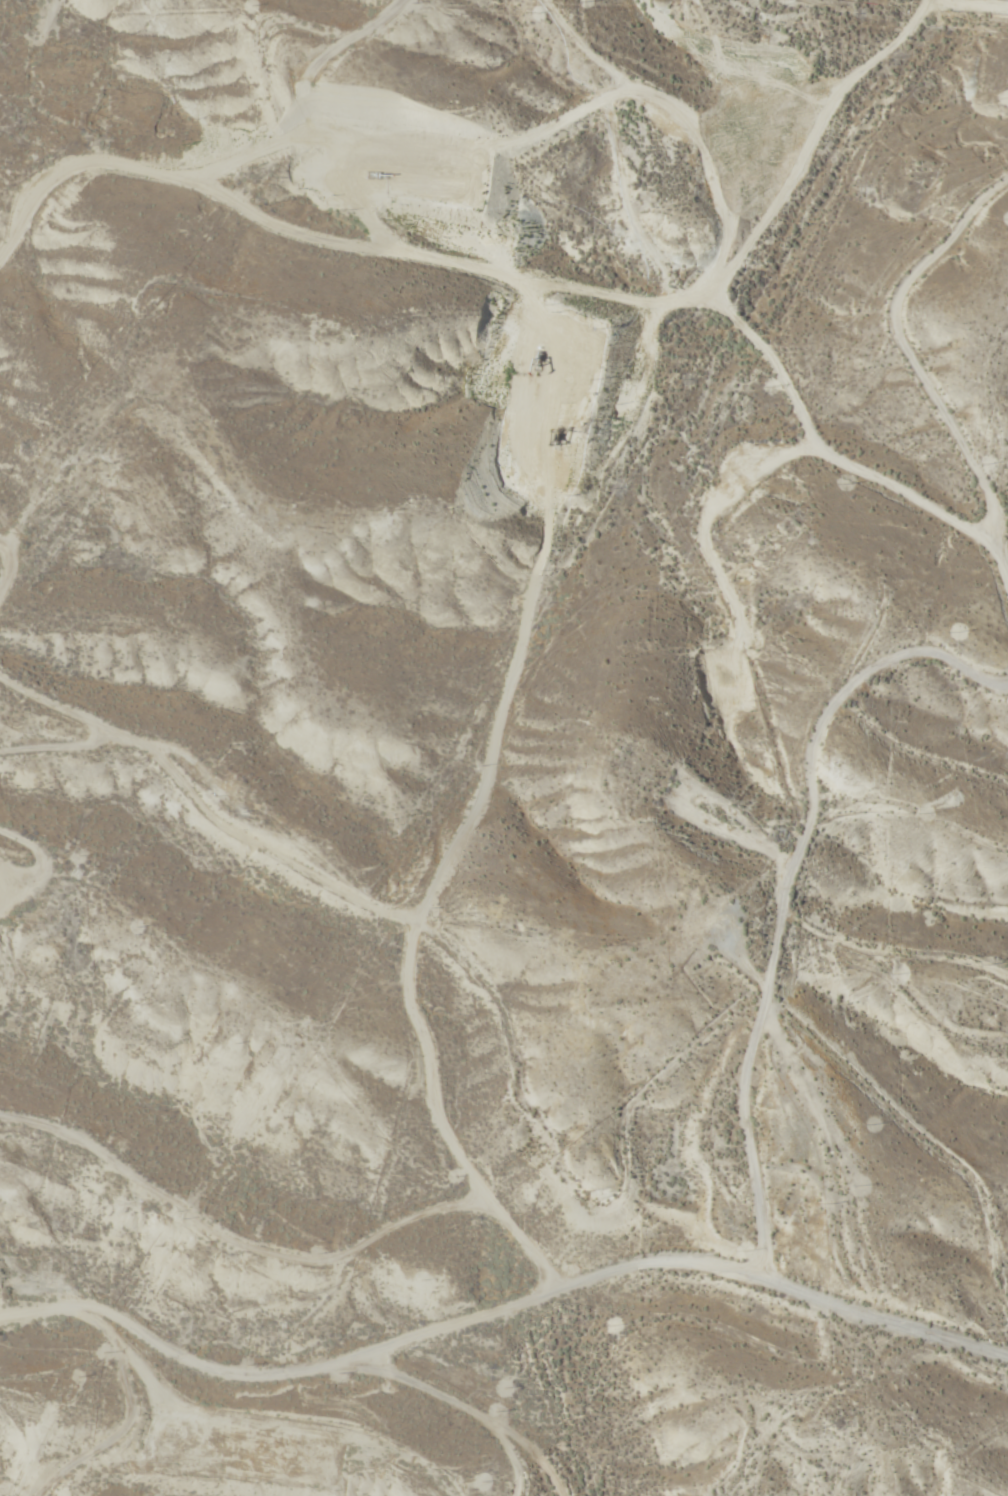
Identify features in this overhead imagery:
road: (2, 3)
road: (261, 93)
road: (527, 263)
road: (961, 330)
road: (1006, 424)
road: (550, 645)
road: (36, 681)
road: (908, 823)
road: (777, 927)
road: (894, 964)
road: (560, 1119)
road: (13, 1261)
road: (500, 1311)
road: (447, 1420)

